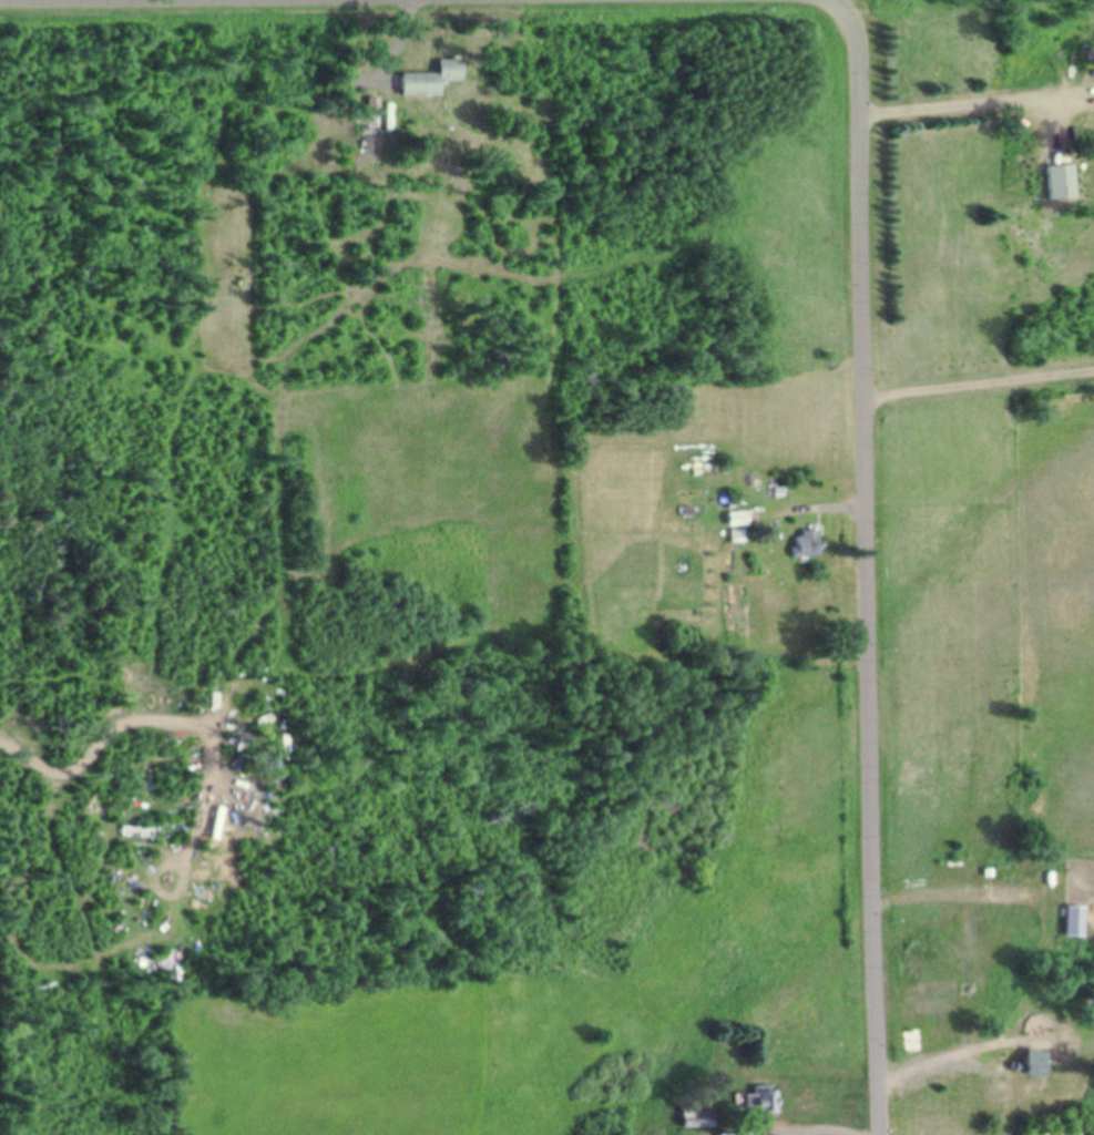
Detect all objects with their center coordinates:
road: (132, 1)
road: (835, 7)
building: (423, 81)
building: (365, 119)
building: (1056, 183)
road: (978, 385)
building: (799, 546)
road: (866, 573)
building: (1062, 738)

